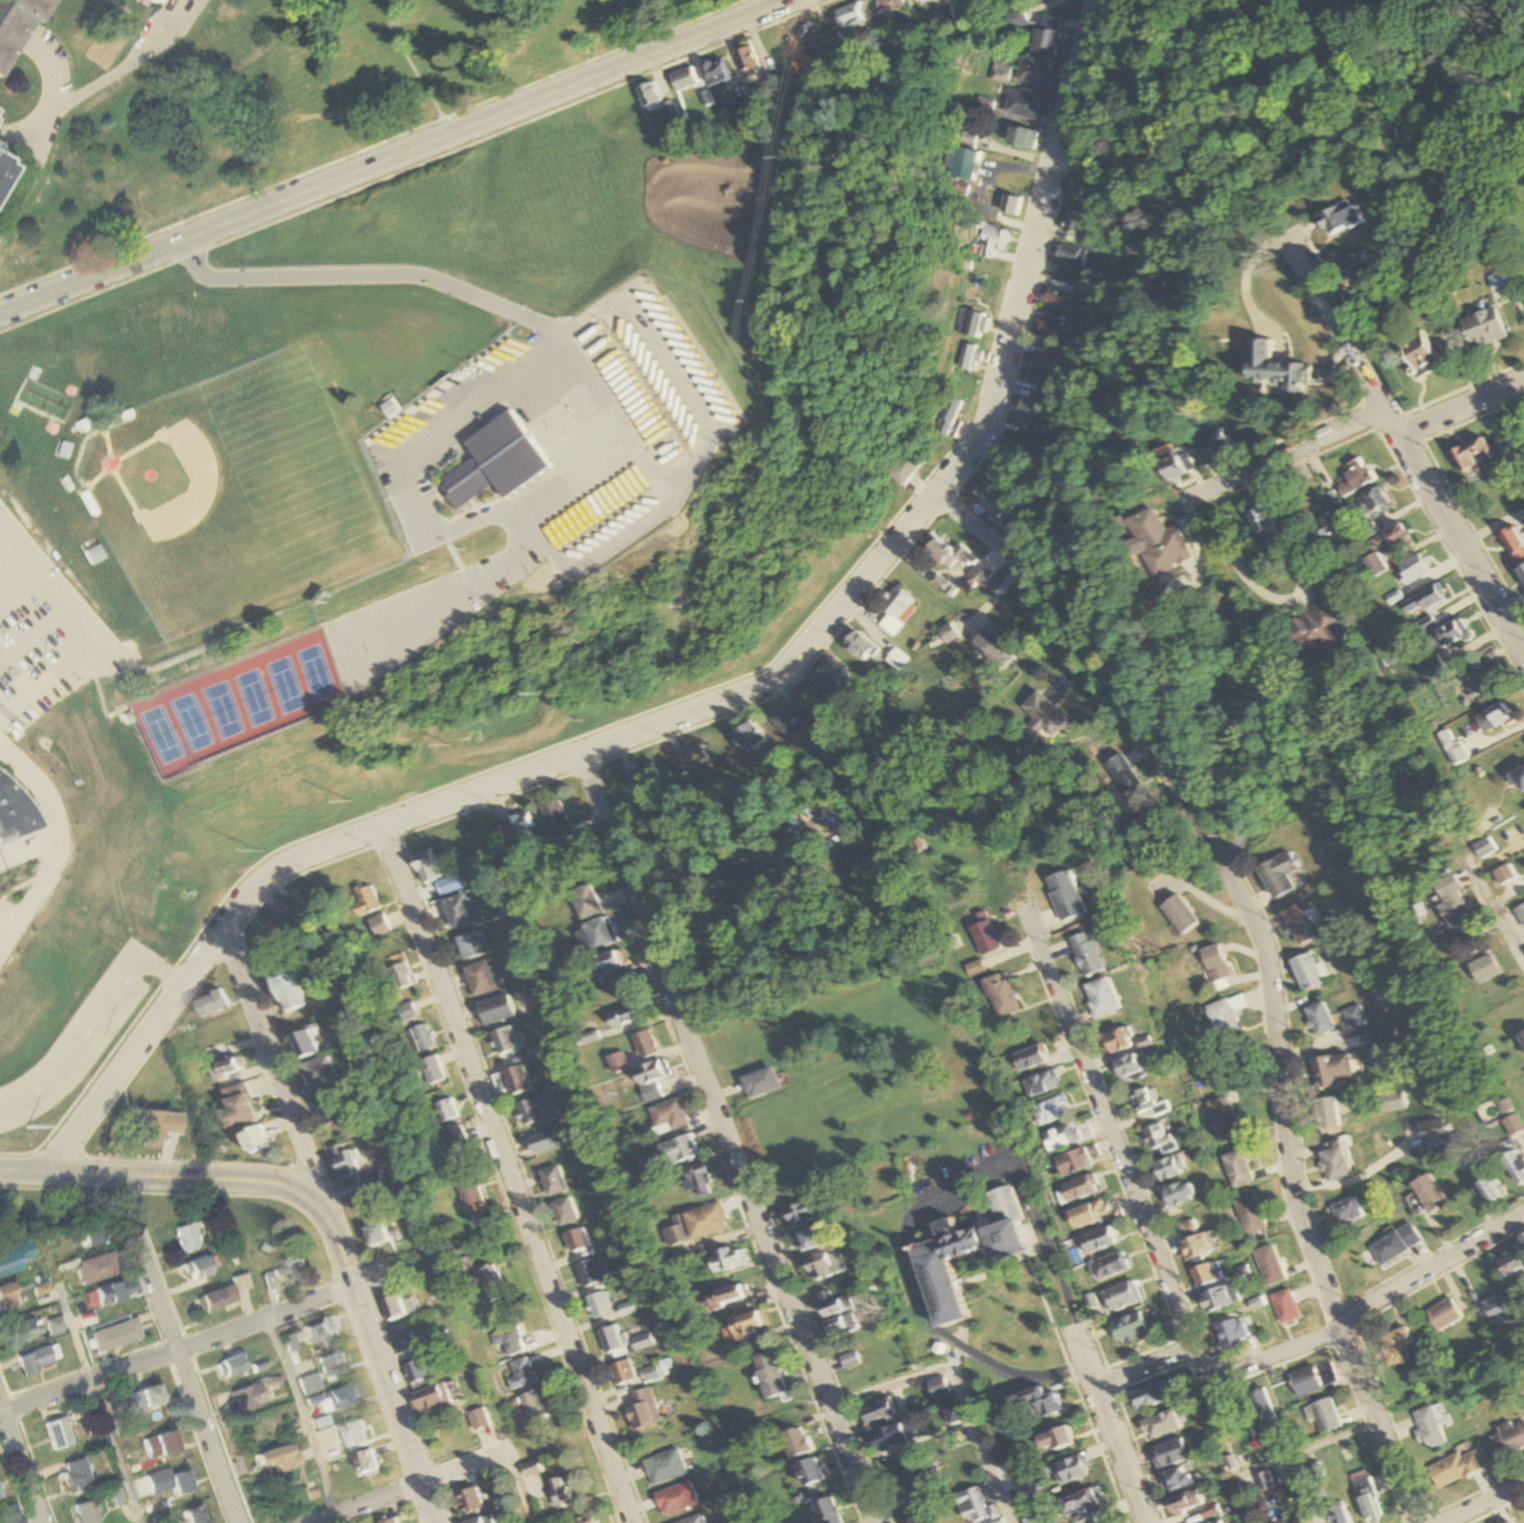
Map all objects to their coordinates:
building: (145, 1)
building: (11, 14)
road: (132, 61)
road: (407, 61)
road: (45, 121)
road: (20, 135)
road: (394, 156)
road: (417, 166)
road: (307, 172)
road: (693, 391)
road: (1461, 408)
road: (618, 432)
road: (1407, 452)
road: (1285, 454)
park: (220, 493)
road: (11, 549)
road: (1235, 562)
road: (23, 590)
road: (462, 597)
road: (89, 623)
road: (35, 630)
parking lot: (43, 634)
park: (314, 673)
park: (286, 685)
park: (253, 699)
road: (709, 708)
park: (222, 710)
park: (192, 723)
park: (161, 735)
building: (14, 809)
road: (43, 833)
road: (52, 844)
road: (26, 848)
road: (262, 858)
road: (1494, 905)
road: (1269, 963)
road: (91, 1022)
parking lot: (70, 1049)
road: (279, 1069)
road: (732, 1140)
road: (1115, 1144)
road: (168, 1175)
road: (509, 1175)
road: (1052, 1268)
road: (1432, 1268)
road: (215, 1333)
road: (179, 1348)
road: (1274, 1355)
road: (1143, 1366)
road: (382, 1367)
road: (964, 1387)
road: (98, 1401)
road: (301, 1419)
road: (1121, 1454)
road: (497, 1456)
road: (1286, 1457)
road: (19, 1466)
road: (368, 1503)
road: (1484, 1503)

